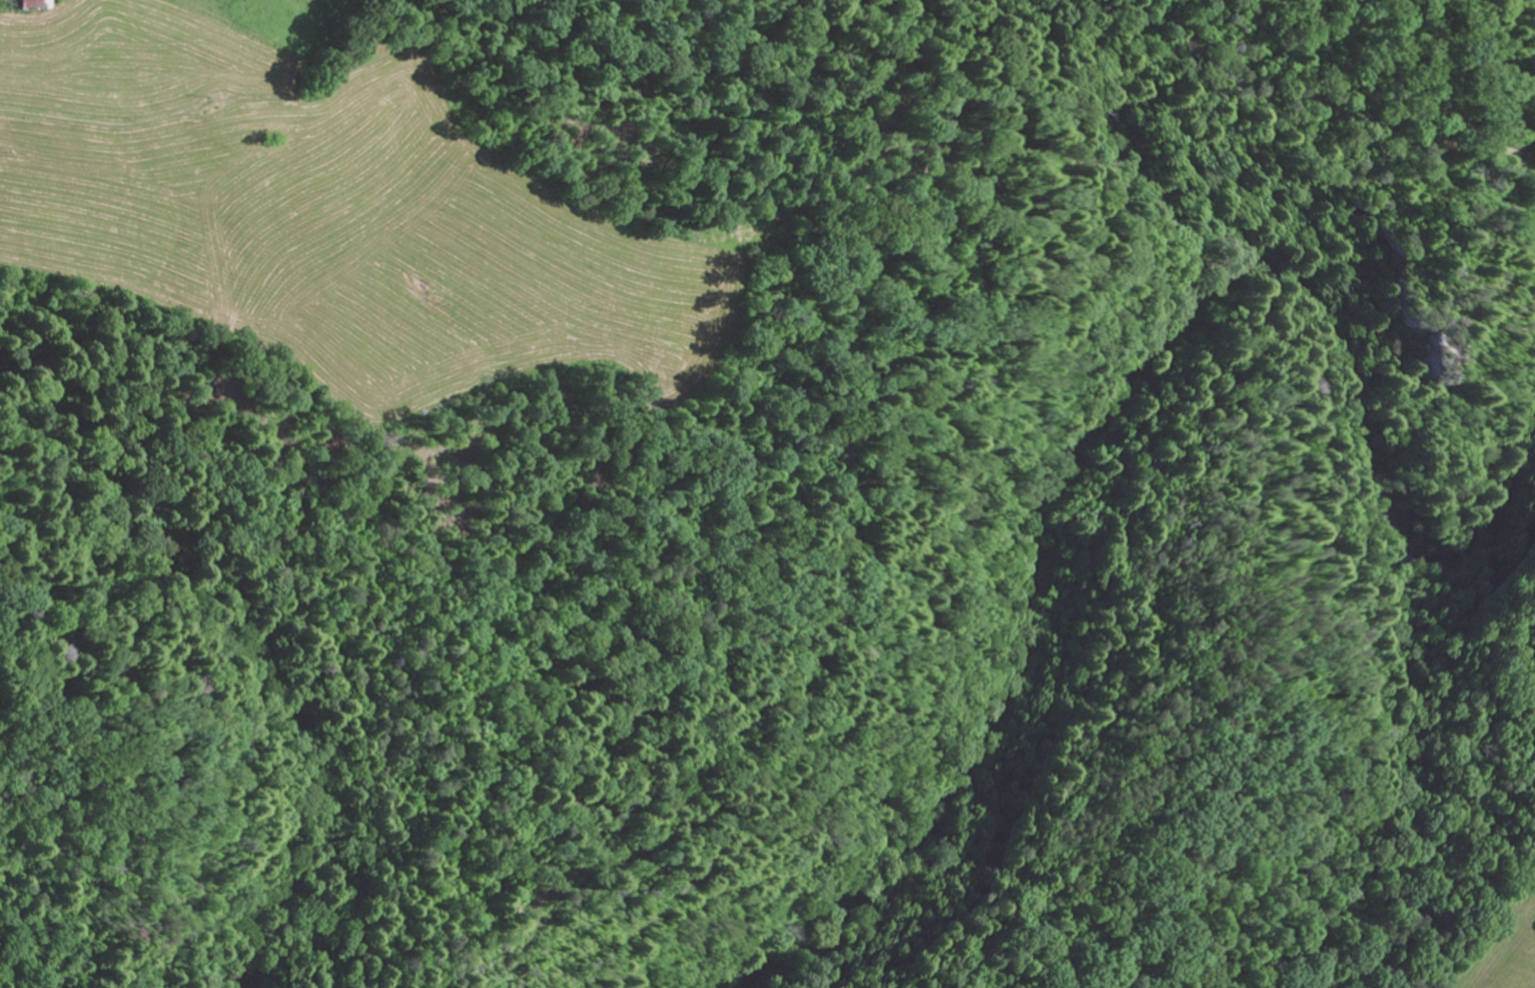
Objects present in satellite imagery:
building: (35, 5)

